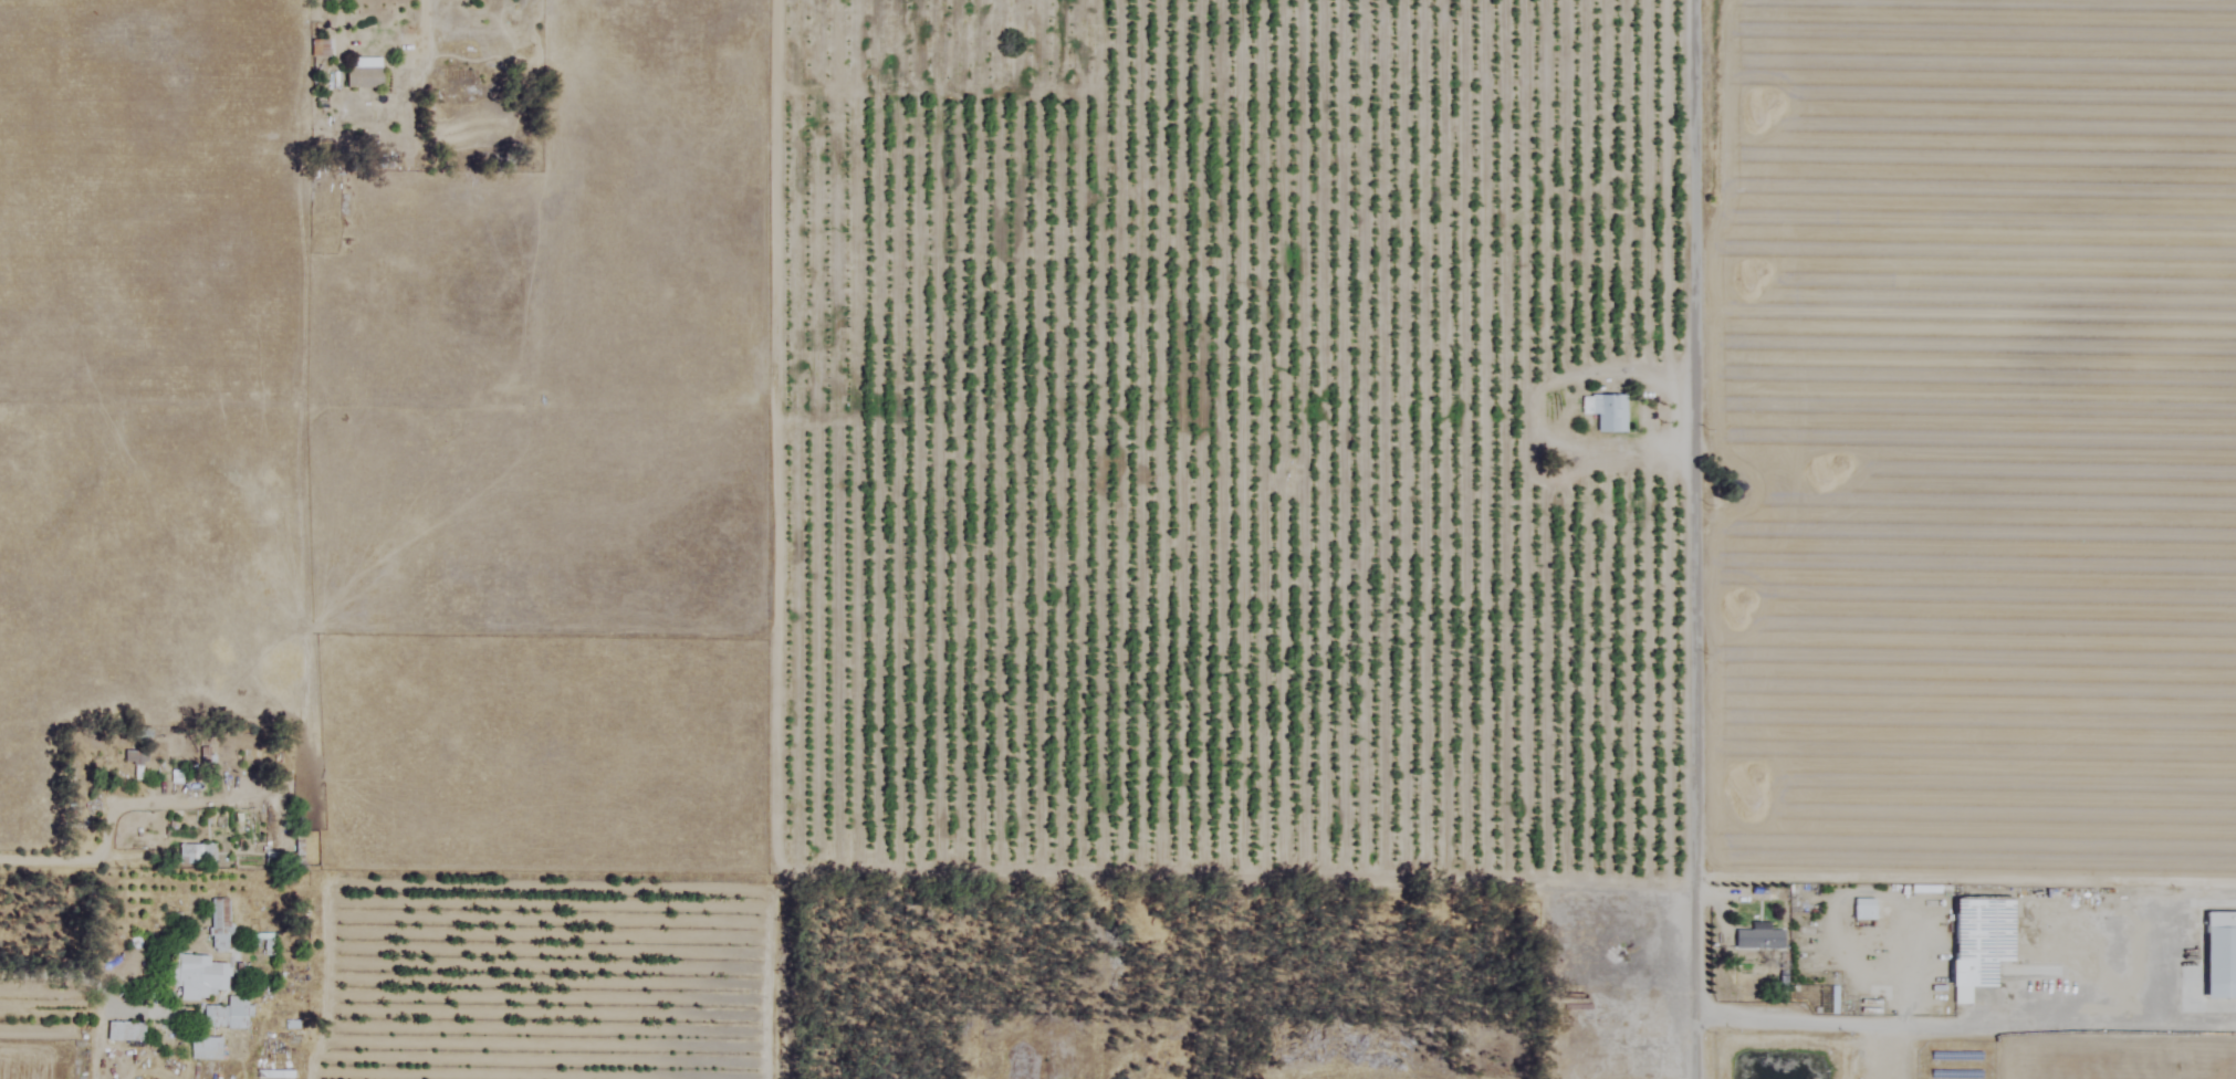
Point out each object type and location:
building: (318, 48)
road: (417, 60)
building: (363, 73)
building: (459, 78)
building: (1609, 412)
crop: (1506, 441)
building: (1739, 480)
road: (1699, 538)
building: (132, 764)
road: (126, 804)
building: (297, 846)
building: (197, 853)
building: (1863, 909)
building: (1643, 912)
building: (219, 925)
building: (1758, 937)
building: (1976, 943)
building: (2218, 955)
road: (83, 974)
building: (198, 976)
building: (450, 981)
building: (227, 1015)
road: (1956, 1028)
building: (125, 1030)
building: (206, 1048)
crop: (2068, 1059)

